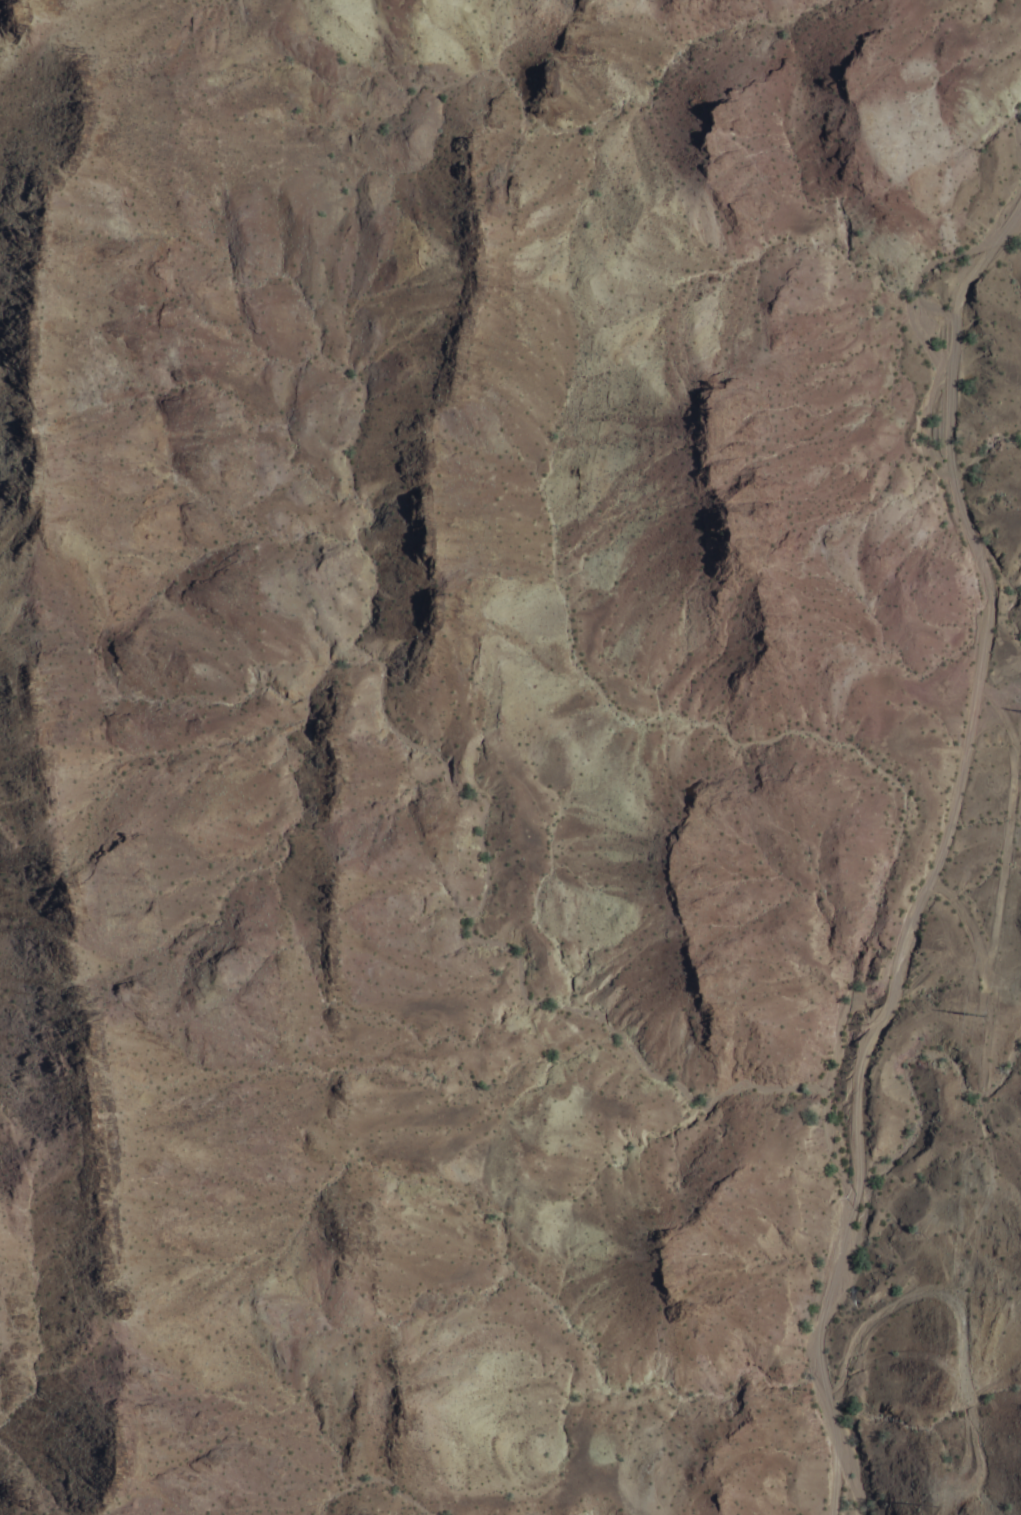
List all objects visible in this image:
power tower: (976, 1013)
power tower: (933, 1511)

